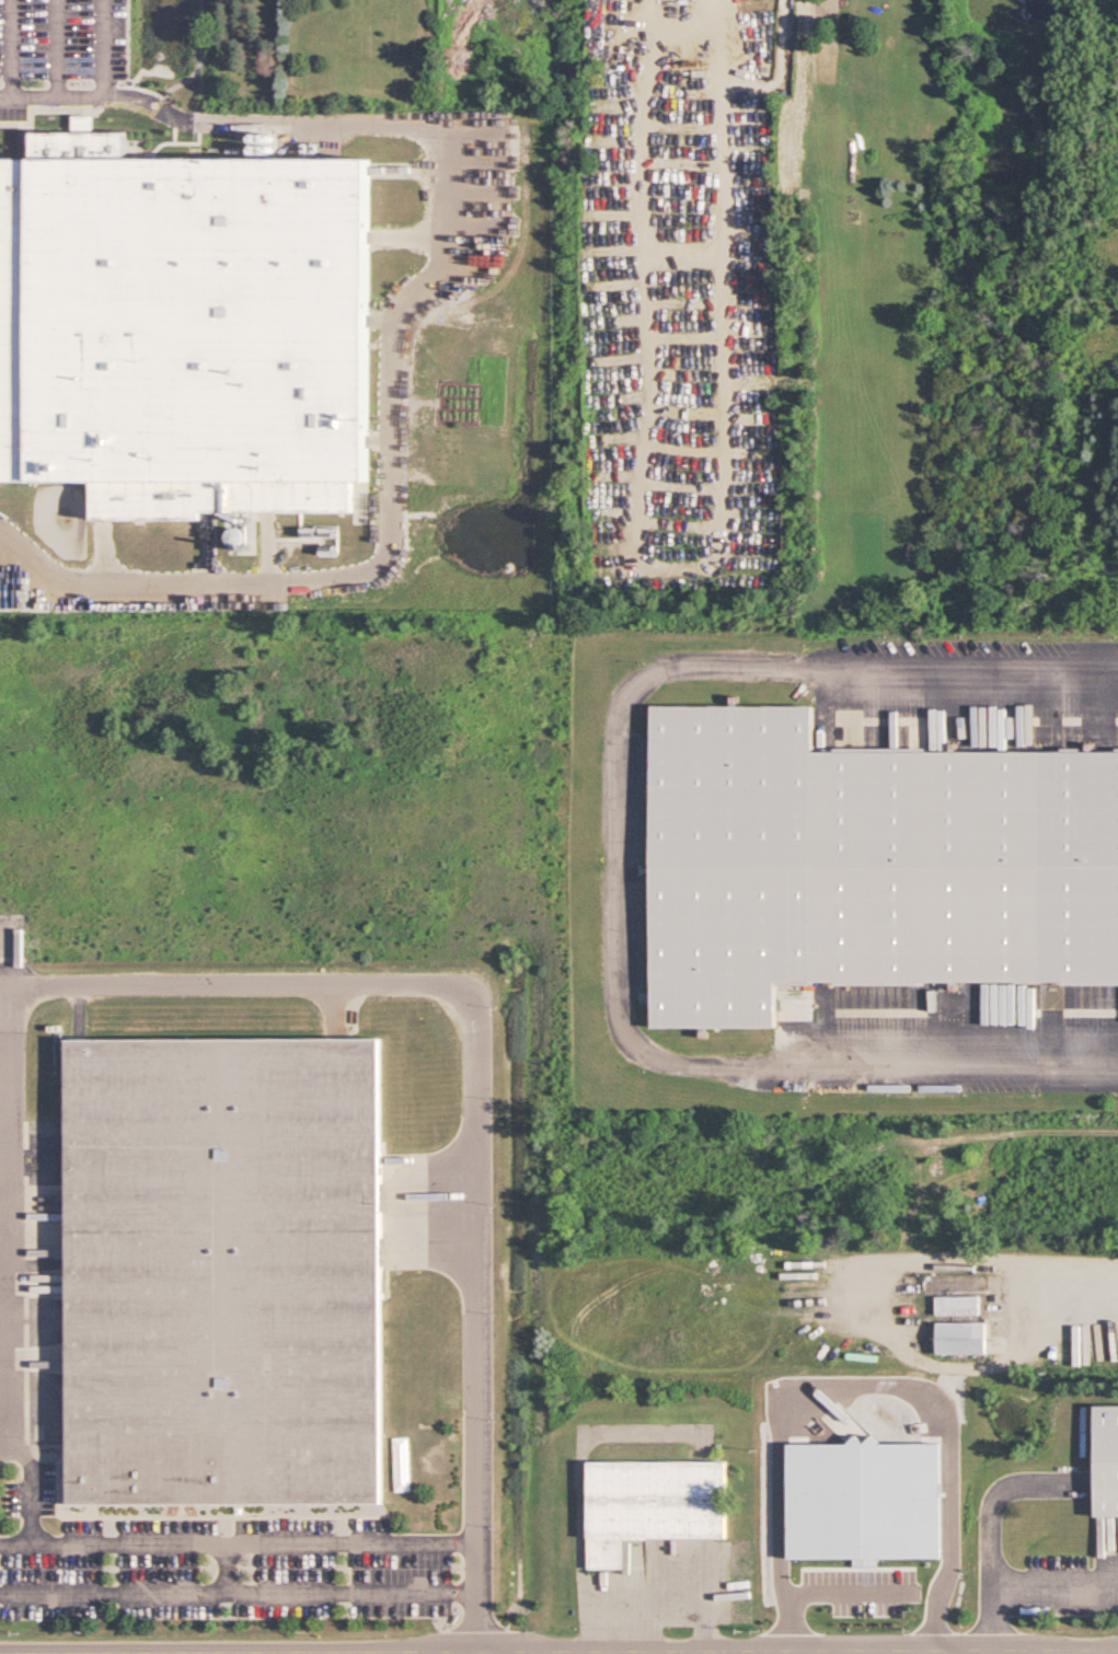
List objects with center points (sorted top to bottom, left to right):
road: (1045, 7)
road: (105, 47)
road: (57, 48)
road: (11, 49)
road: (211, 119)
road: (404, 149)
road: (404, 219)
building: (185, 314)
road: (391, 528)
road: (207, 533)
road: (267, 533)
road: (101, 534)
building: (858, 835)
road: (618, 864)
road: (479, 1073)
road: (1024, 1119)
road: (1070, 1242)
building: (224, 1252)
building: (960, 1302)
road: (874, 1312)
building: (963, 1338)
road: (858, 1384)
building: (1105, 1436)
building: (650, 1477)
building: (865, 1501)
road: (987, 1508)
road: (241, 1523)
road: (226, 1550)
road: (1053, 1571)
road: (241, 1576)
road: (842, 1591)
road: (665, 1604)
road: (558, 1650)
road: (850, 1651)

